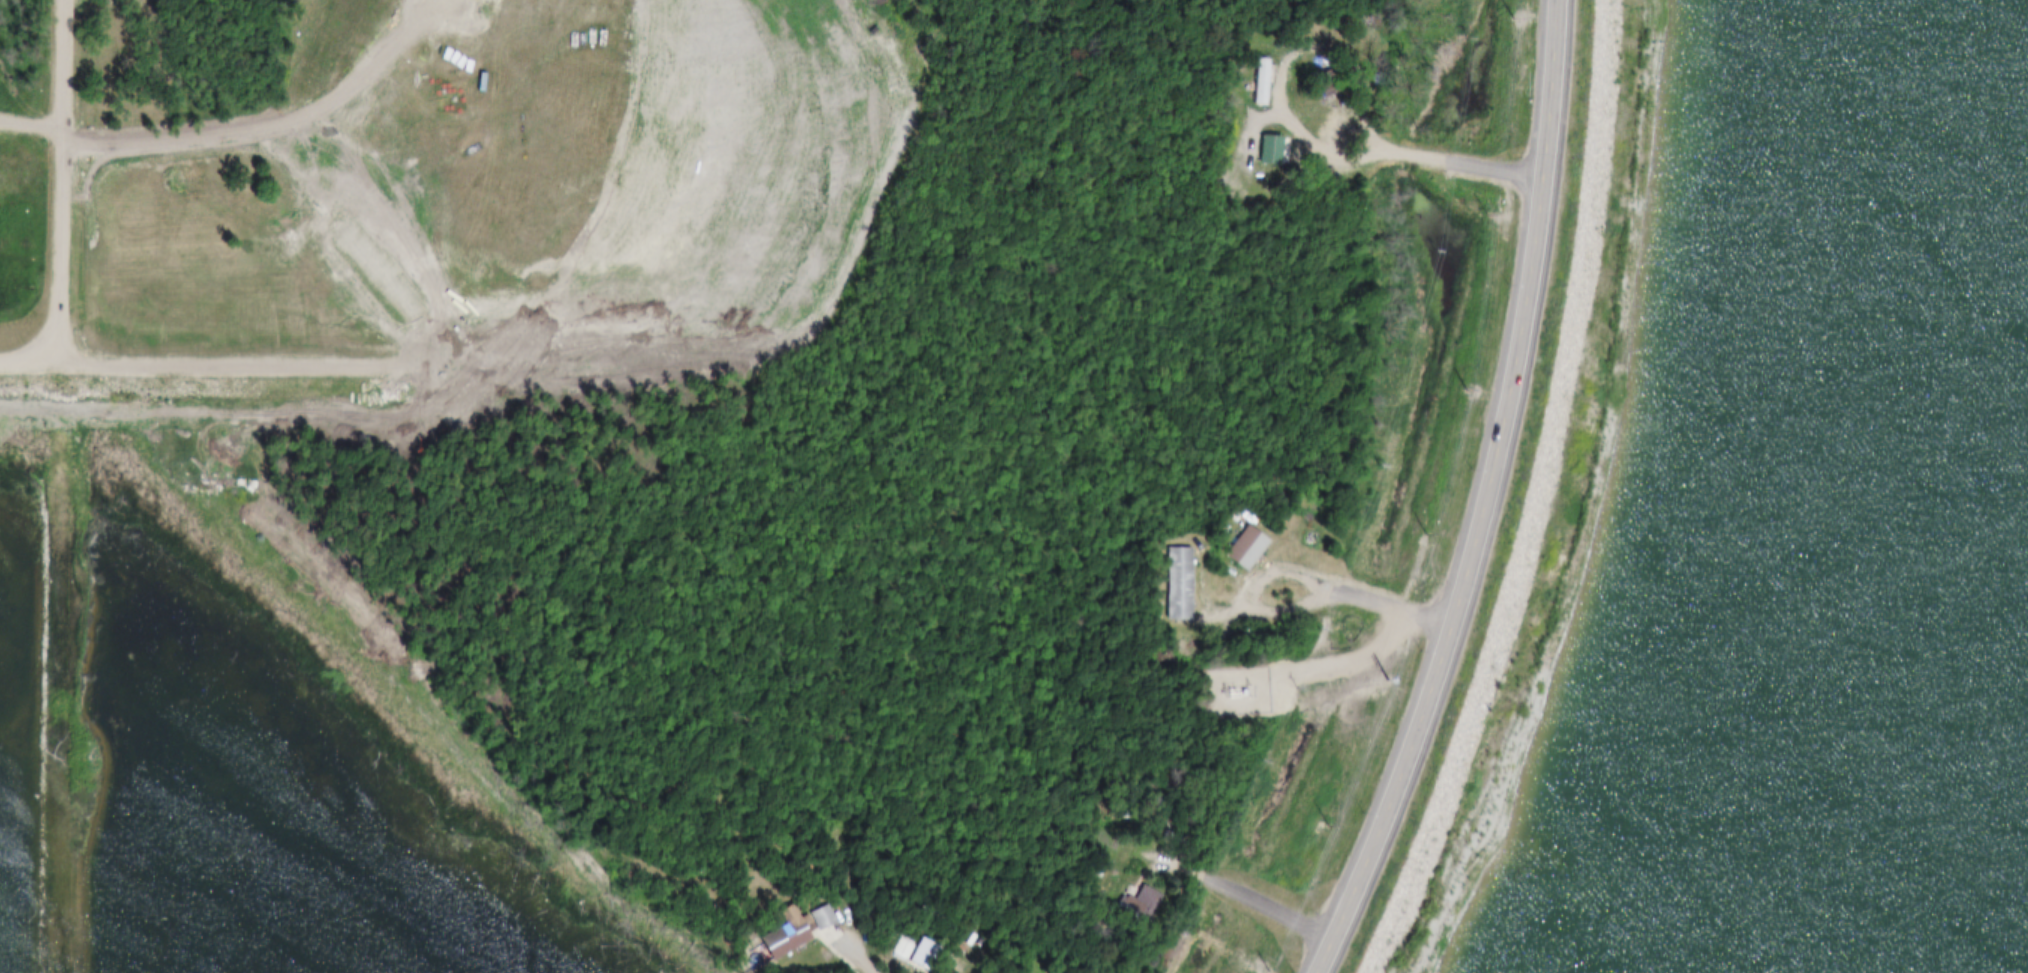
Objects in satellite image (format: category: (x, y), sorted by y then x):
building: (1251, 78)
building: (1322, 126)
building: (1334, 129)
road: (35, 130)
road: (202, 144)
building: (1258, 146)
road: (1415, 158)
road: (63, 174)
road: (358, 246)
road: (32, 346)
road: (1442, 501)
building: (1234, 544)
building: (1248, 549)
road: (1294, 573)
building: (1166, 581)
building: (1181, 584)
road: (1210, 879)
building: (1126, 901)
building: (1145, 903)
building: (810, 914)
building: (824, 918)
building: (772, 931)
building: (787, 934)
road: (845, 939)
building: (905, 952)

